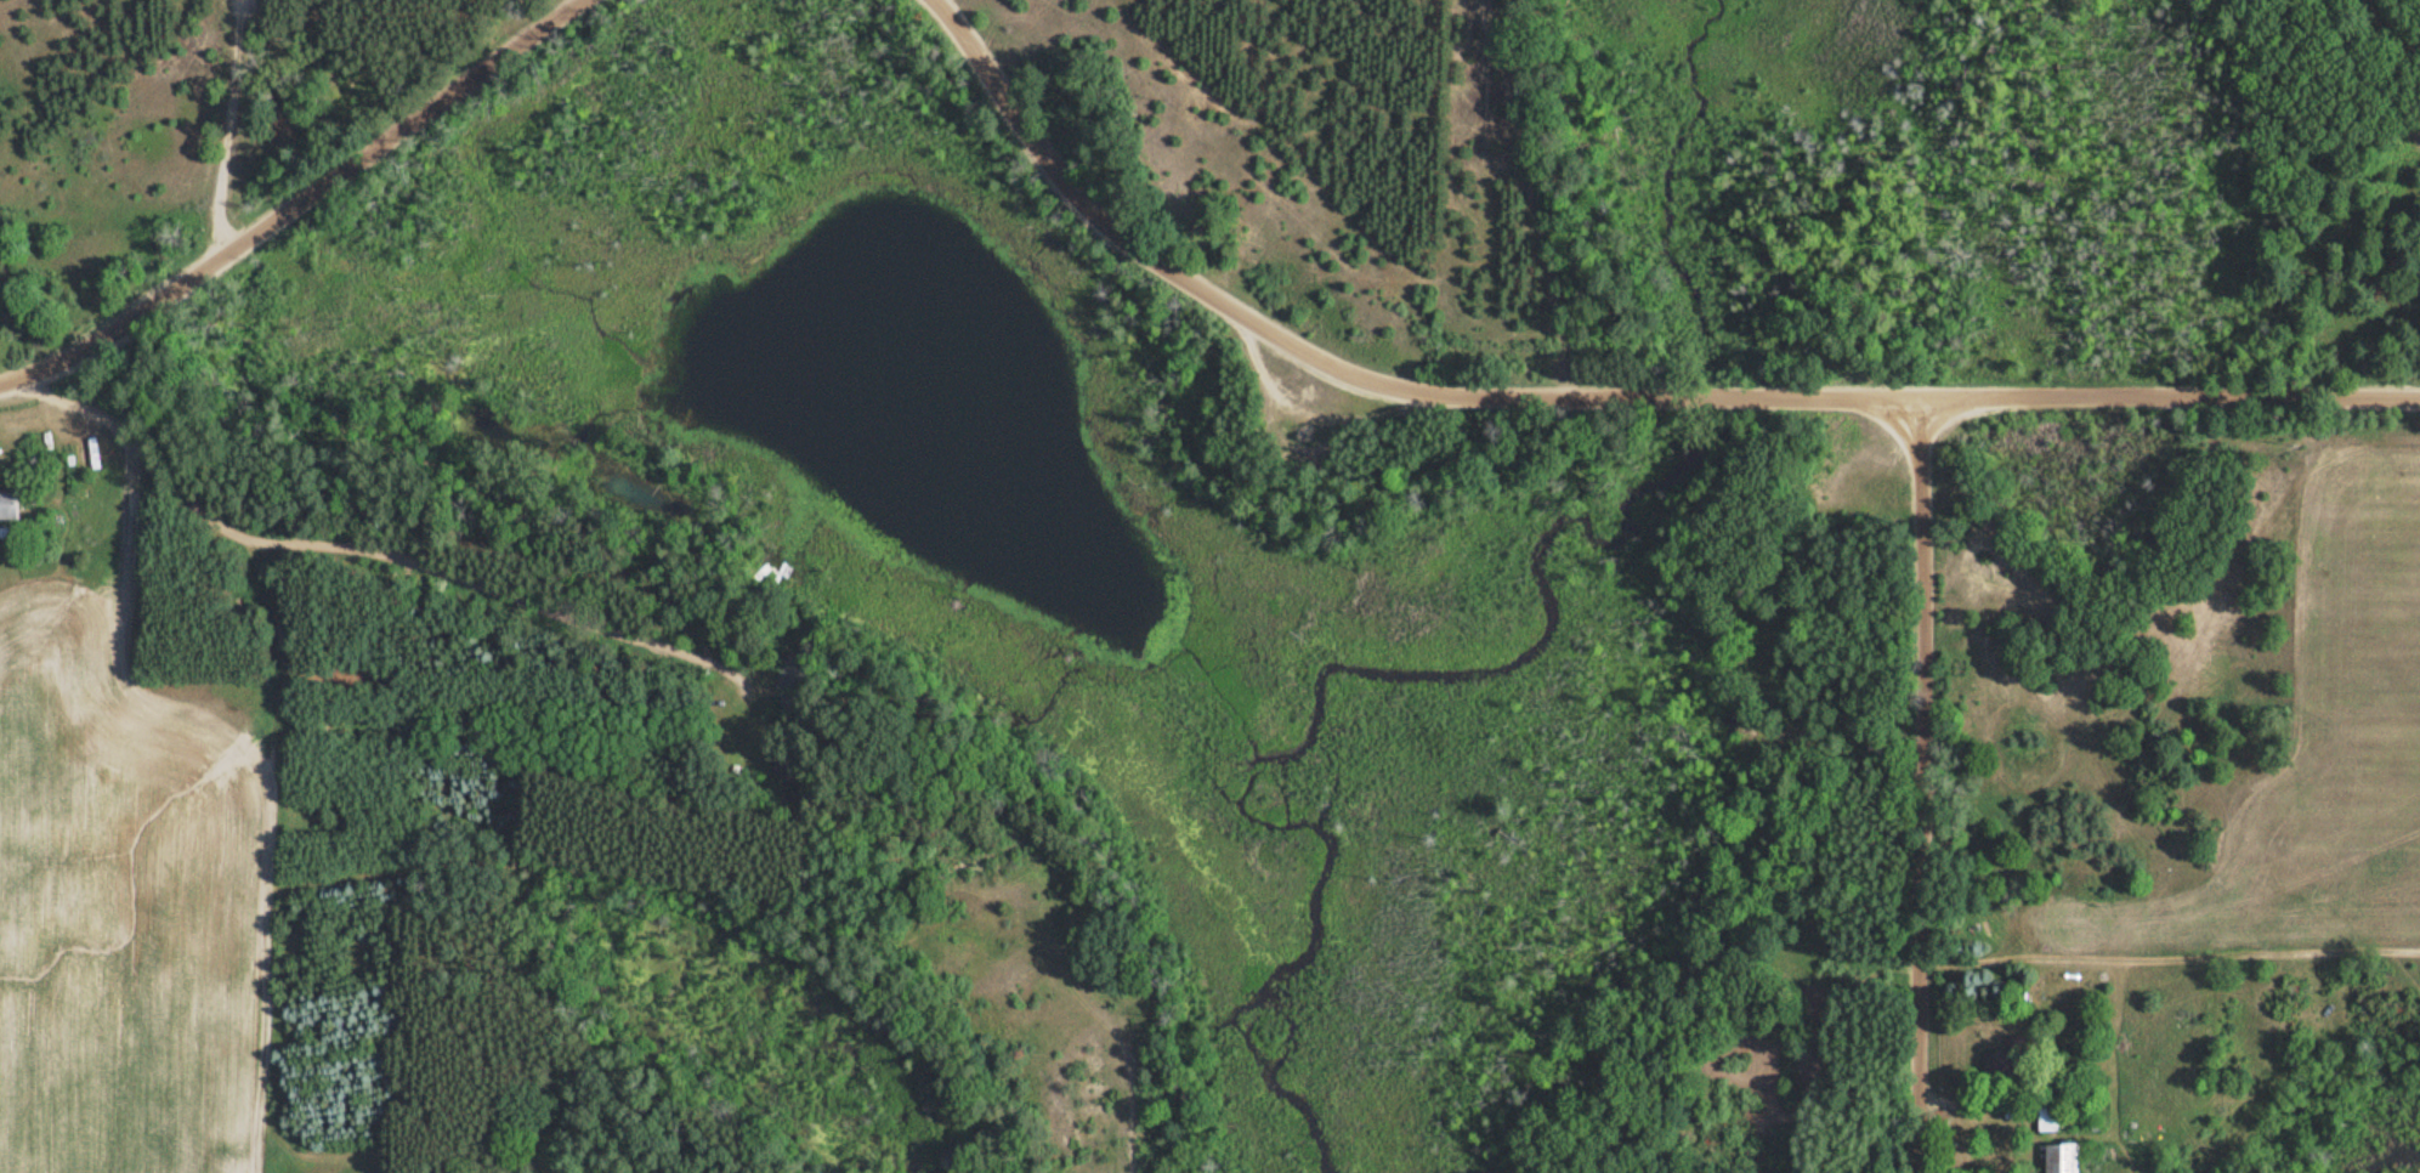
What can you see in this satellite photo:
road: (2373, 70)
road: (215, 132)
road: (1512, 197)
road: (293, 203)
road: (1596, 393)
building: (13, 505)
road: (517, 567)
road: (323, 708)
building: (797, 769)
road: (1920, 786)
road: (2159, 956)
building: (2012, 1044)
building: (2045, 1117)
road: (1107, 1130)
building: (2053, 1158)

